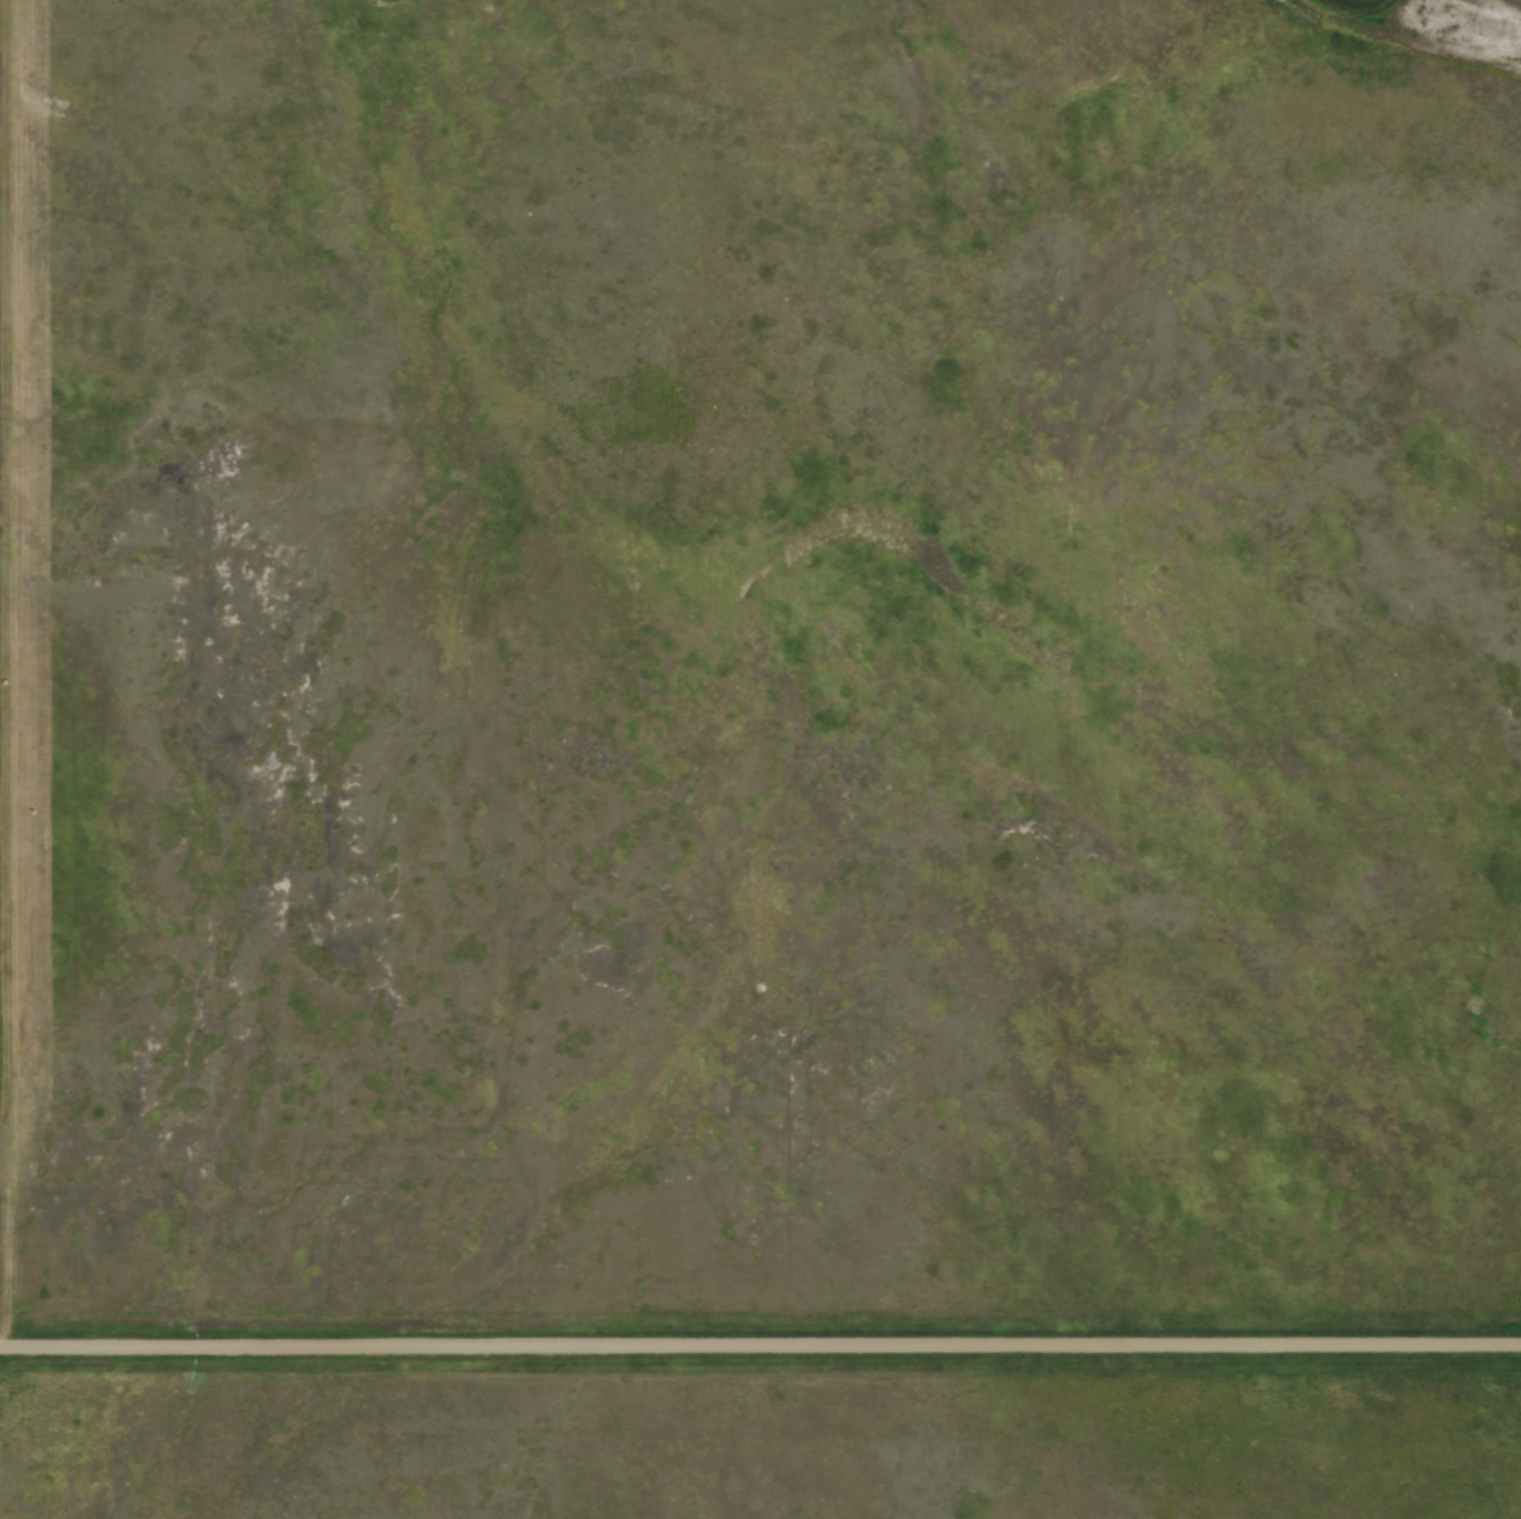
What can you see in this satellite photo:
road: (760, 1345)

